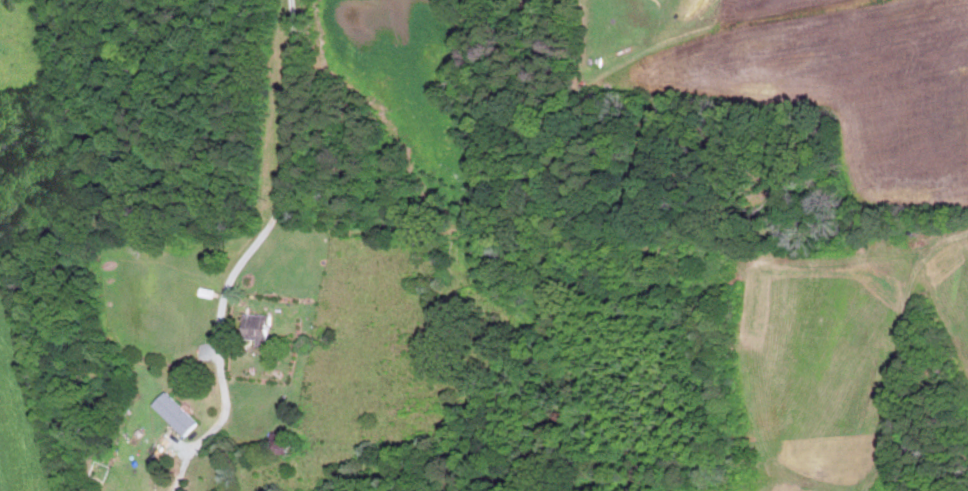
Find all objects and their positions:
road: (284, 198)
building: (260, 327)
building: (179, 413)
road: (204, 437)
building: (286, 446)

